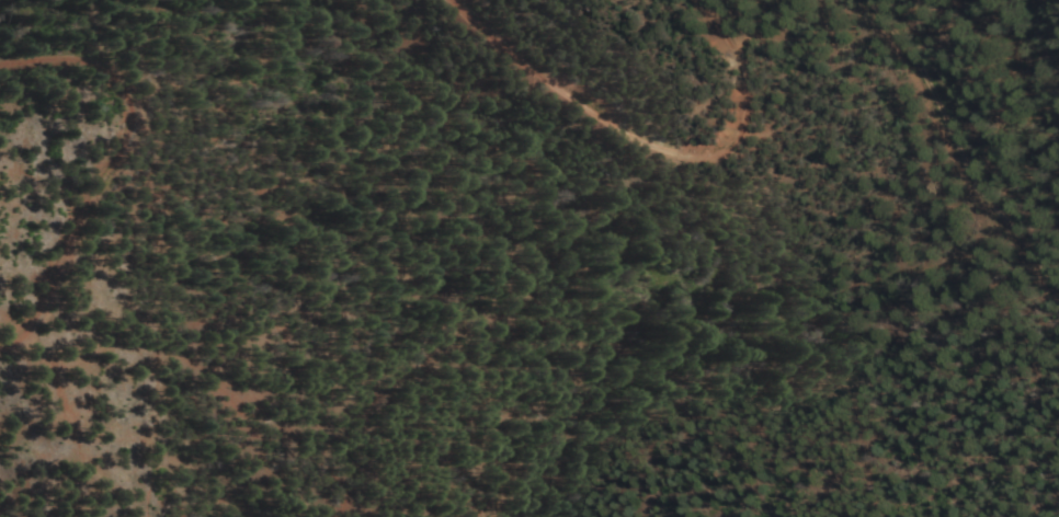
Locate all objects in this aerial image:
road: (656, 143)
road: (965, 147)
road: (112, 157)

